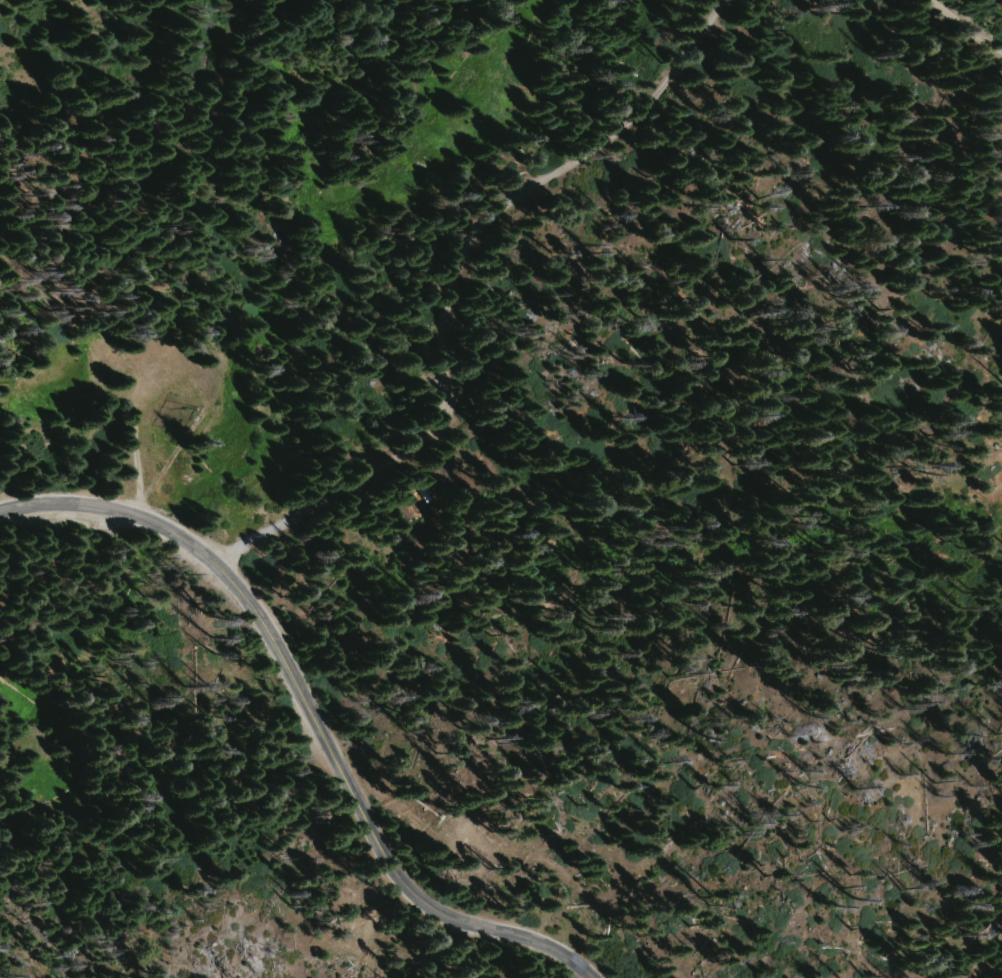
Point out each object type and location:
road: (891, 45)
road: (478, 338)
road: (178, 373)
road: (161, 527)
road: (396, 855)

